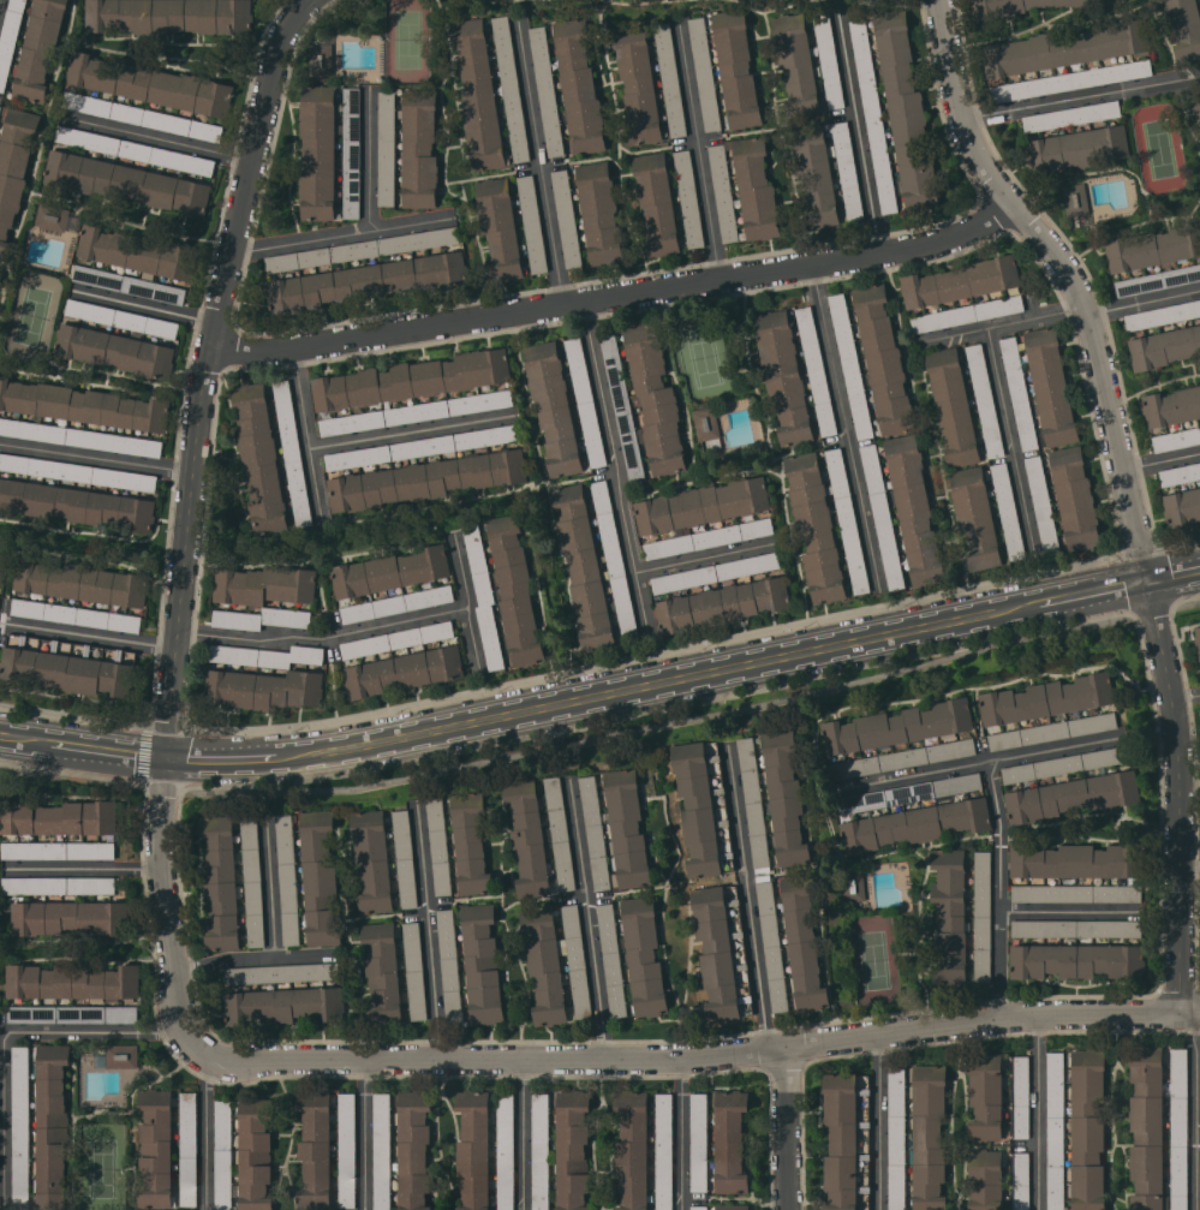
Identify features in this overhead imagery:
building: (1013, 6)
building: (168, 16)
building: (1186, 28)
park: (406, 35)
building: (10, 38)
building: (1064, 47)
building: (38, 50)
building: (828, 59)
building: (321, 60)
building: (795, 64)
building: (736, 68)
building: (704, 73)
building: (669, 79)
building: (1070, 81)
building: (150, 84)
building: (638, 84)
building: (511, 88)
building: (578, 88)
building: (545, 91)
building: (478, 94)
road: (1083, 97)
building: (1194, 102)
building: (0, 108)
building: (905, 112)
building: (141, 115)
building: (872, 115)
building: (1071, 115)
road: (858, 132)
road: (159, 135)
building: (386, 148)
park: (1160, 148)
building: (419, 149)
building: (1077, 149)
building: (133, 150)
building: (318, 151)
building: (351, 151)
road: (697, 151)
road: (369, 157)
road: (539, 161)
building: (13, 167)
building: (847, 169)
building: (816, 175)
building: (125, 181)
building: (756, 189)
building: (723, 192)
building: (688, 198)
building: (1075, 198)
building: (656, 203)
building: (599, 213)
building: (55, 217)
building: (566, 217)
building: (531, 223)
building: (498, 228)
road: (341, 233)
building: (360, 249)
building: (1153, 249)
building: (137, 252)
building: (1, 275)
building: (1158, 280)
building: (366, 281)
building: (960, 281)
building: (130, 285)
road: (616, 296)
road: (1144, 300)
road: (145, 305)
building: (967, 314)
park: (32, 315)
building: (1162, 315)
building: (121, 318)
road: (1005, 327)
building: (1164, 347)
building: (114, 350)
park: (705, 357)
building: (883, 360)
building: (850, 365)
building: (816, 370)
building: (783, 376)
building: (411, 380)
building: (1050, 387)
building: (1019, 393)
building: (655, 399)
building: (585, 400)
building: (984, 400)
building: (83, 405)
building: (553, 406)
building: (622, 406)
building: (953, 406)
building: (1171, 406)
building: (417, 412)
road: (844, 427)
road: (178, 428)
building: (706, 429)
building: (82, 437)
road: (358, 439)
road: (1010, 440)
building: (1176, 440)
building: (420, 447)
building: (292, 453)
road: (97, 454)
building: (259, 459)
road: (1162, 460)
road: (615, 467)
building: (78, 472)
building: (1180, 473)
building: (424, 479)
road: (1128, 487)
building: (1075, 497)
building: (1041, 503)
building: (76, 505)
building: (702, 506)
building: (1182, 507)
building: (914, 508)
building: (1008, 511)
building: (882, 517)
building: (975, 517)
building: (847, 520)
building: (814, 527)
building: (708, 537)
road: (703, 556)
building: (614, 561)
building: (1, 566)
building: (583, 567)
building: (390, 572)
building: (714, 572)
road: (1175, 574)
building: (80, 582)
building: (264, 585)
building: (514, 590)
building: (484, 596)
building: (398, 603)
building: (721, 604)
building: (76, 615)
building: (261, 618)
road: (362, 628)
road: (89, 633)
road: (472, 638)
building: (1198, 638)
building: (396, 639)
building: (267, 655)
building: (70, 664)
building: (404, 672)
road: (716, 672)
building: (262, 689)
road: (1186, 696)
building: (1047, 699)
building: (896, 727)
building: (1053, 731)
road: (24, 740)
road: (108, 752)
building: (903, 758)
road: (225, 759)
road: (985, 762)
building: (1065, 764)
road: (113, 777)
building: (909, 792)
building: (1071, 795)
building: (784, 798)
building: (753, 803)
building: (704, 807)
building: (58, 817)
building: (913, 824)
building: (627, 828)
building: (560, 833)
building: (595, 833)
building: (529, 838)
building: (470, 842)
building: (440, 846)
building: (58, 851)
building: (405, 859)
building: (372, 860)
building: (1075, 860)
road: (82, 869)
road: (1189, 874)
building: (320, 877)
building: (288, 880)
building: (252, 881)
building: (221, 883)
building: (58, 886)
building: (852, 886)
road: (271, 893)
road: (1001, 893)
building: (1076, 893)
road: (748, 898)
road: (1069, 912)
building: (949, 916)
building: (983, 916)
building: (68, 917)
road: (586, 919)
building: (1076, 928)
road: (431, 931)
building: (802, 942)
building: (772, 946)
building: (722, 952)
building: (643, 956)
building: (611, 960)
building: (1076, 960)
road: (253, 961)
building: (555, 961)
building: (482, 962)
park: (873, 962)
building: (449, 966)
building: (414, 971)
building: (283, 972)
building: (382, 973)
building: (72, 982)
building: (283, 1005)
building: (73, 1014)
road: (184, 1015)
road: (10, 1033)
building: (118, 1056)
building: (985, 1097)
building: (1021, 1097)
road: (1198, 1110)
road: (1038, 1116)
road: (879, 1123)
building: (50, 1127)
building: (1146, 1127)
building: (20, 1128)
road: (207, 1128)
road: (789, 1128)
building: (1178, 1128)
building: (1088, 1129)
building: (1055, 1131)
road: (364, 1134)
road: (525, 1134)
road: (682, 1134)
building: (929, 1136)
building: (897, 1138)
building: (730, 1140)
building: (847, 1140)
building: (699, 1142)
building: (155, 1148)
building: (413, 1148)
building: (189, 1149)
building: (315, 1149)
building: (473, 1149)
building: (572, 1149)
building: (633, 1149)
building: (347, 1150)
building: (382, 1151)
building: (506, 1151)
building: (541, 1151)
building: (664, 1151)
building: (222, 1155)
building: (255, 1155)
park: (102, 1166)
building: (985, 1179)
building: (1020, 1181)
building: (732, 1206)
building: (699, 1208)

